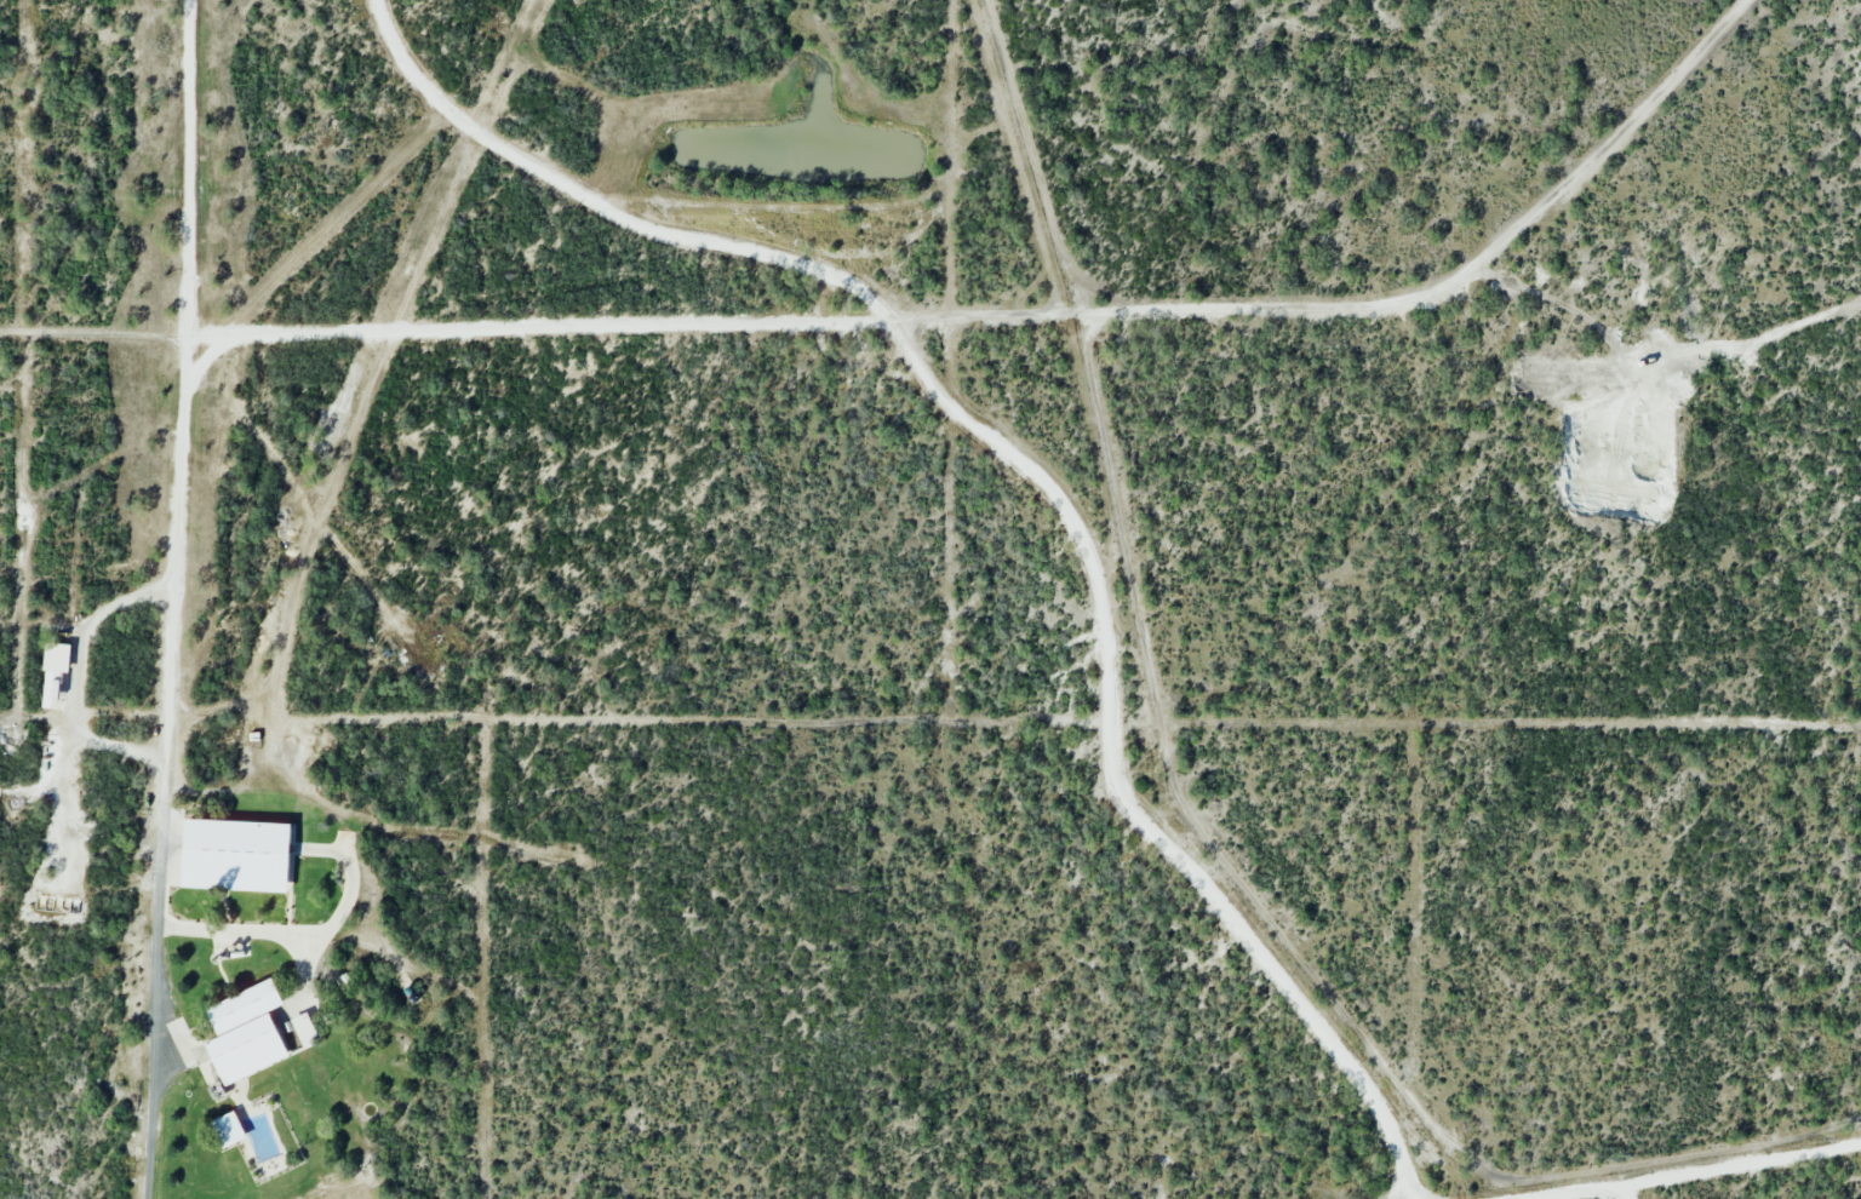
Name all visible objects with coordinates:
road: (191, 292)
road: (1033, 478)
building: (53, 671)
road: (167, 694)
building: (234, 851)
road: (155, 1002)
building: (244, 1031)
building: (225, 1128)
road: (1737, 1172)
road: (1571, 1195)

